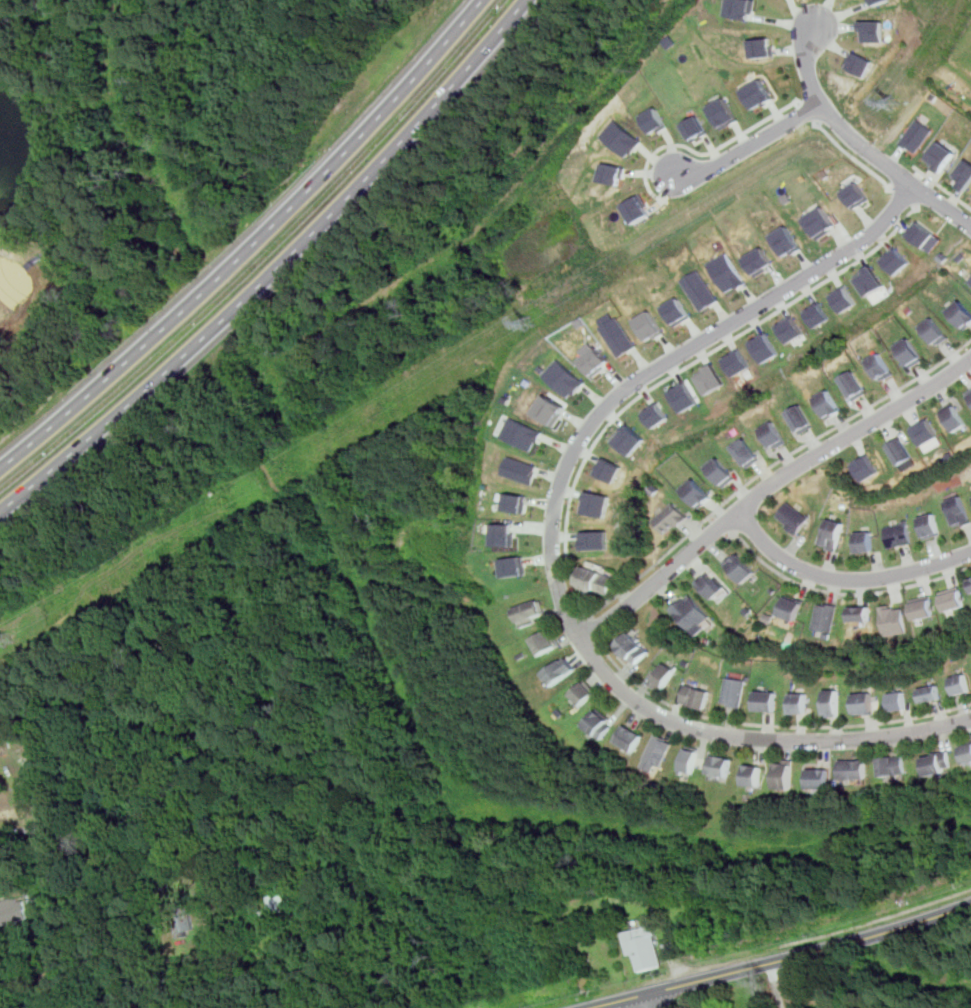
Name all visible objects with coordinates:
building: (878, 1)
building: (742, 8)
building: (872, 30)
building: (761, 46)
building: (859, 64)
building: (757, 93)
power tower: (897, 103)
building: (723, 113)
road: (817, 117)
building: (653, 120)
building: (695, 128)
building: (915, 135)
building: (621, 138)
road: (755, 147)
road: (859, 147)
road: (692, 148)
road: (851, 154)
building: (940, 155)
building: (612, 173)
building: (964, 174)
road: (927, 184)
road: (942, 186)
building: (857, 195)
road: (905, 195)
building: (638, 208)
building: (823, 221)
building: (925, 235)
building: (789, 240)
road: (252, 245)
building: (897, 260)
building: (761, 261)
road: (275, 268)
building: (728, 272)
building: (871, 280)
building: (970, 281)
building: (701, 289)
building: (845, 299)
building: (677, 311)
building: (962, 313)
building: (817, 314)
power tower: (530, 323)
building: (648, 325)
building: (789, 329)
building: (936, 330)
building: (618, 336)
building: (763, 348)
building: (911, 351)
building: (594, 360)
building: (736, 362)
building: (881, 366)
building: (563, 377)
building: (709, 379)
building: (854, 384)
building: (970, 394)
building: (683, 397)
building: (828, 402)
building: (549, 409)
building: (654, 414)
building: (801, 417)
building: (955, 417)
building: (927, 431)
building: (522, 433)
building: (774, 434)
building: (628, 439)
building: (901, 450)
building: (747, 451)
building: (867, 467)
building: (520, 469)
building: (608, 469)
building: (721, 471)
road: (768, 489)
building: (697, 492)
building: (517, 502)
building: (595, 503)
building: (958, 510)
building: (670, 517)
building: (791, 517)
building: (929, 524)
road: (722, 525)
building: (832, 533)
building: (897, 533)
building: (507, 536)
building: (595, 539)
building: (864, 541)
road: (553, 542)
road: (568, 564)
building: (740, 566)
building: (516, 567)
road: (844, 579)
building: (597, 581)
building: (711, 585)
road: (844, 595)
building: (954, 598)
building: (923, 606)
building: (792, 607)
building: (531, 611)
building: (690, 611)
building: (860, 612)
building: (826, 616)
building: (894, 618)
road: (595, 630)
power tower: (10, 640)
building: (545, 641)
building: (633, 647)
building: (560, 670)
building: (664, 675)
building: (960, 683)
building: (734, 691)
building: (584, 692)
building: (930, 692)
building: (696, 695)
building: (766, 700)
building: (898, 700)
building: (798, 701)
building: (832, 701)
building: (863, 702)
building: (600, 723)
road: (774, 727)
building: (630, 737)
building: (659, 749)
building: (967, 752)
building: (691, 760)
building: (939, 762)
building: (893, 764)
building: (722, 765)
building: (855, 768)
building: (784, 773)
building: (754, 774)
building: (819, 777)
building: (16, 812)
building: (275, 904)
building: (13, 910)
road: (51, 910)
road: (876, 919)
building: (187, 925)
building: (692, 929)
building: (645, 946)
building: (672, 948)
road: (781, 959)
road: (653, 1000)

